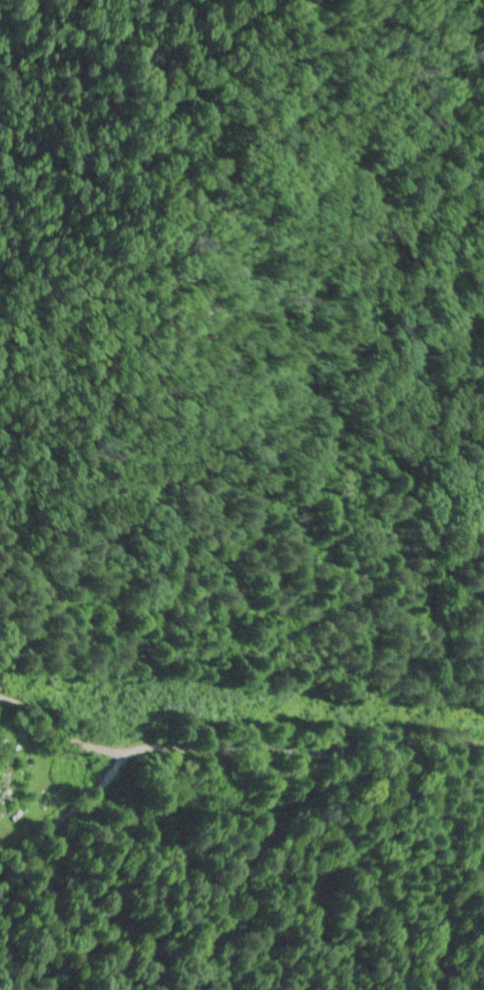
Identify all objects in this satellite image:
road: (62, 731)
road: (219, 749)

